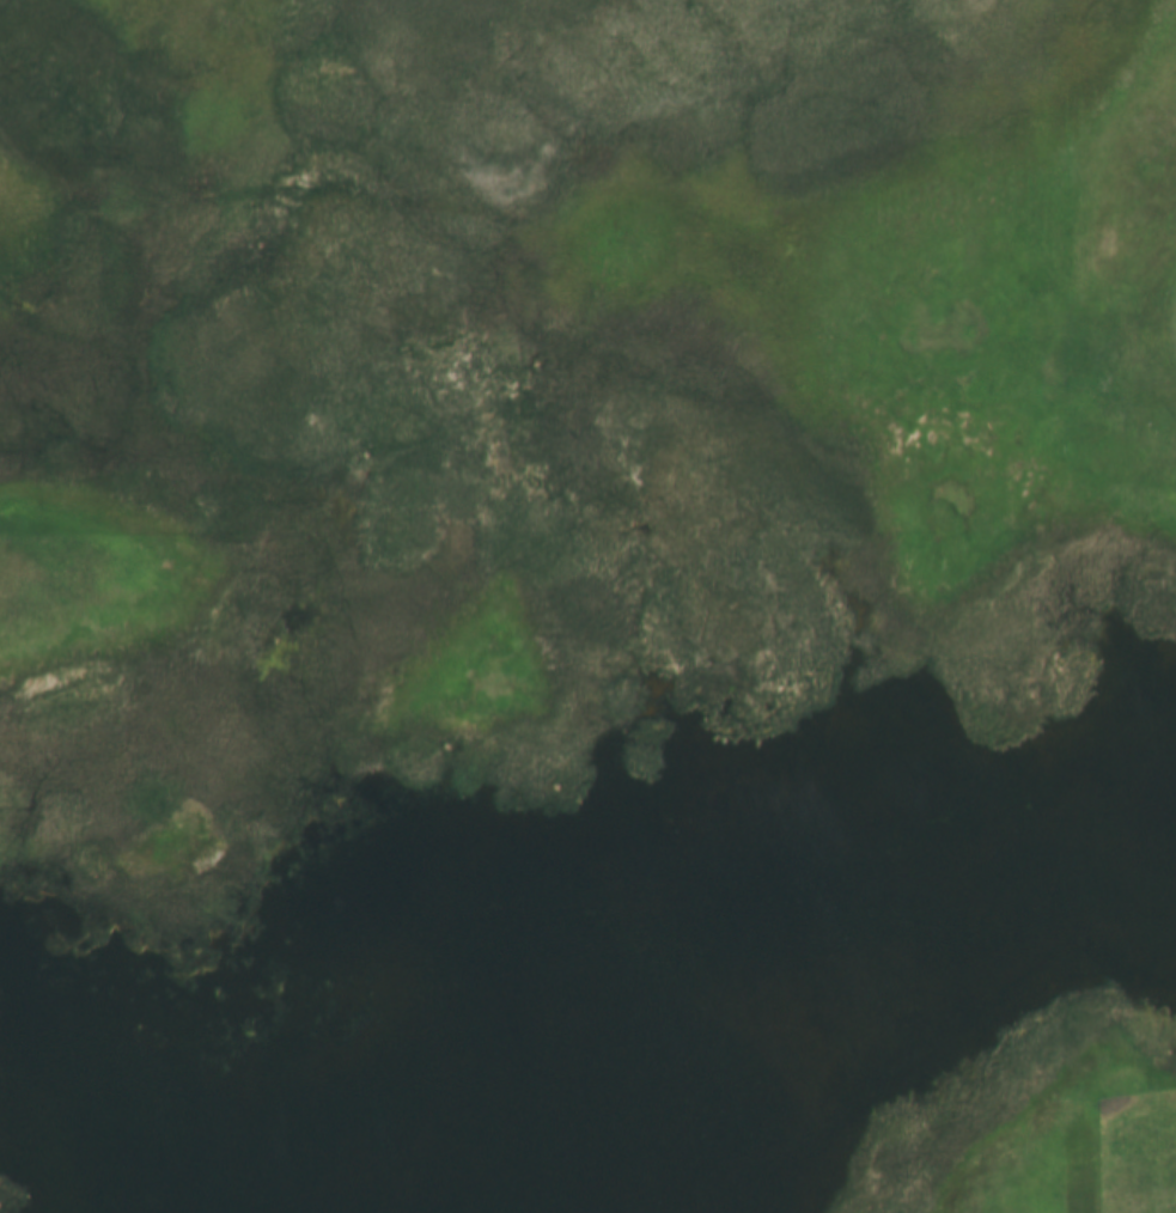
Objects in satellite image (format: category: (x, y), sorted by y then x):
road: (1064, 876)

